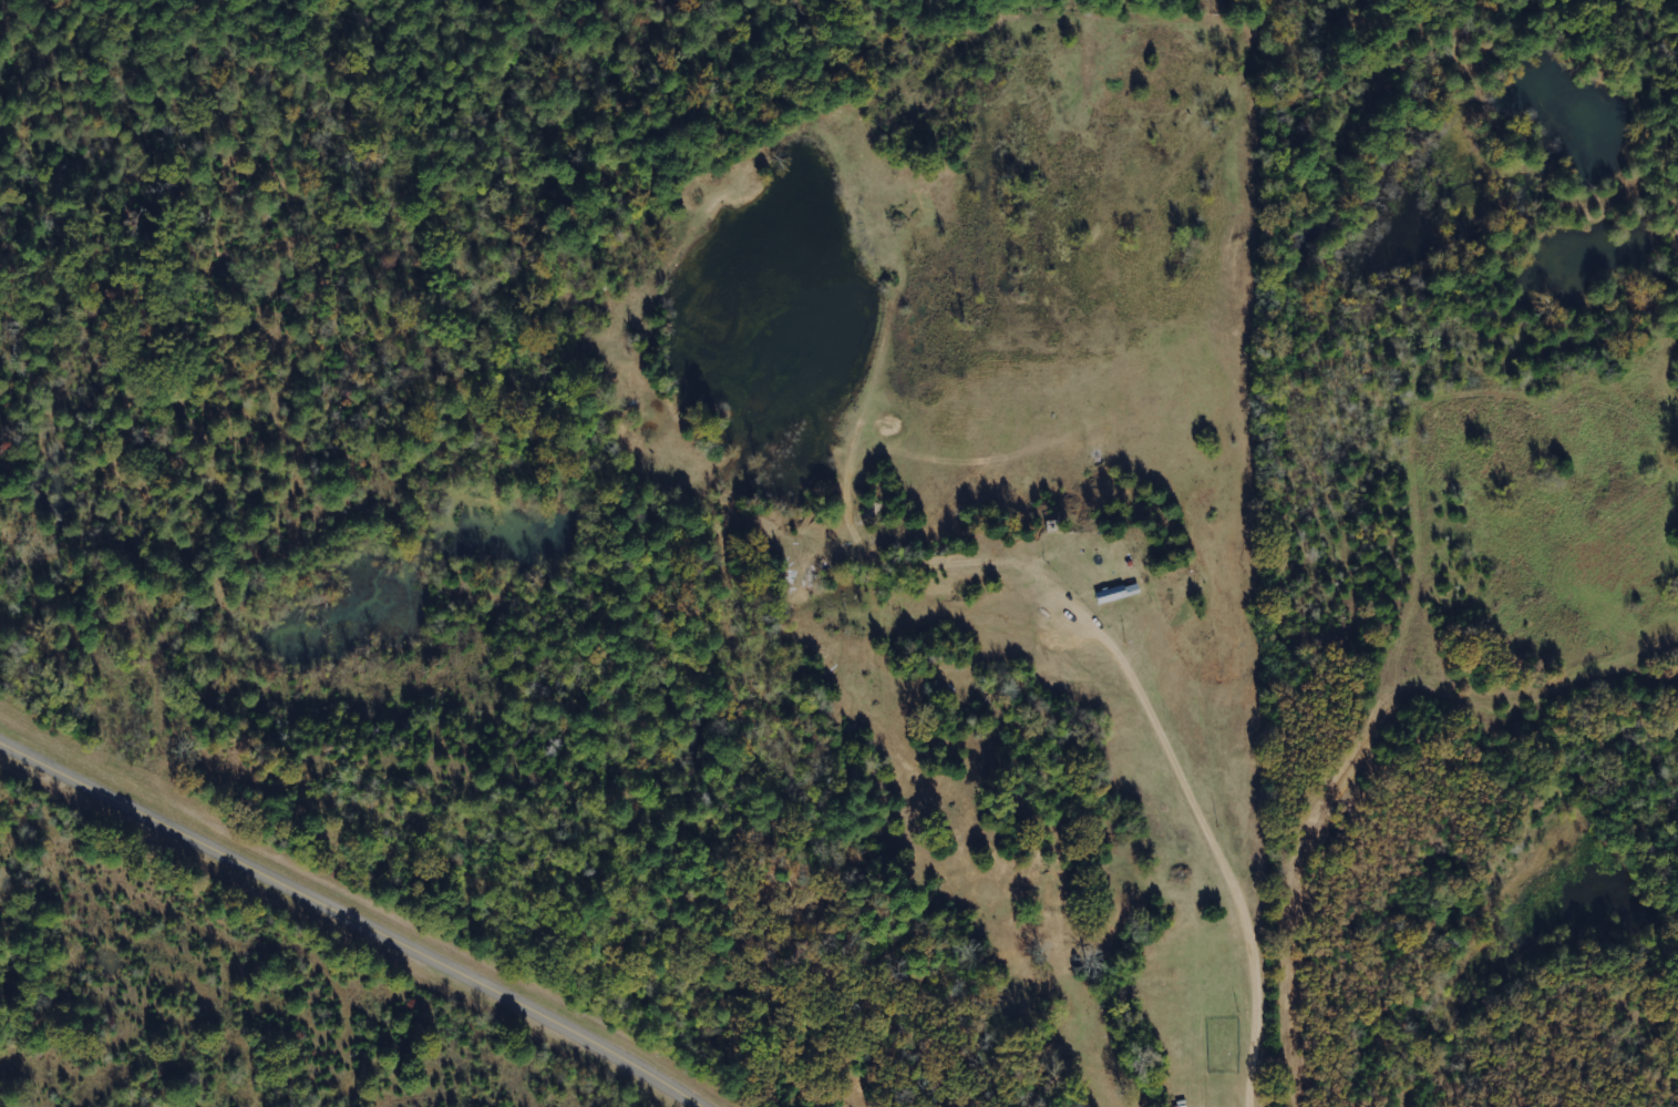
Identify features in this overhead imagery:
road: (353, 919)

